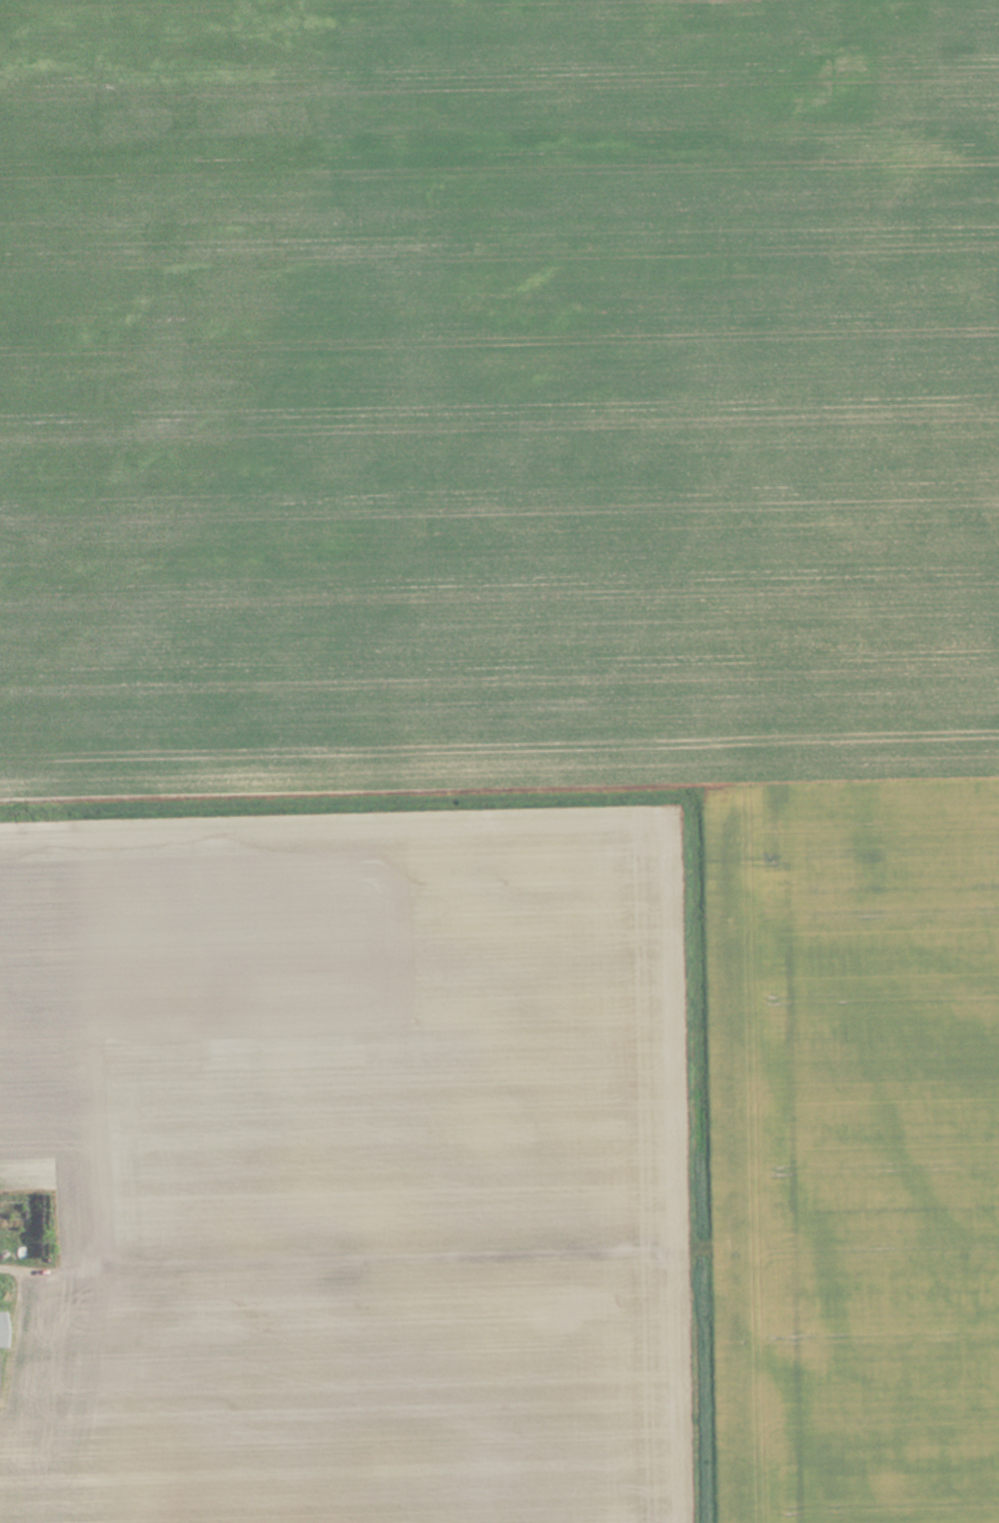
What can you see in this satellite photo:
building: (1, 1329)

